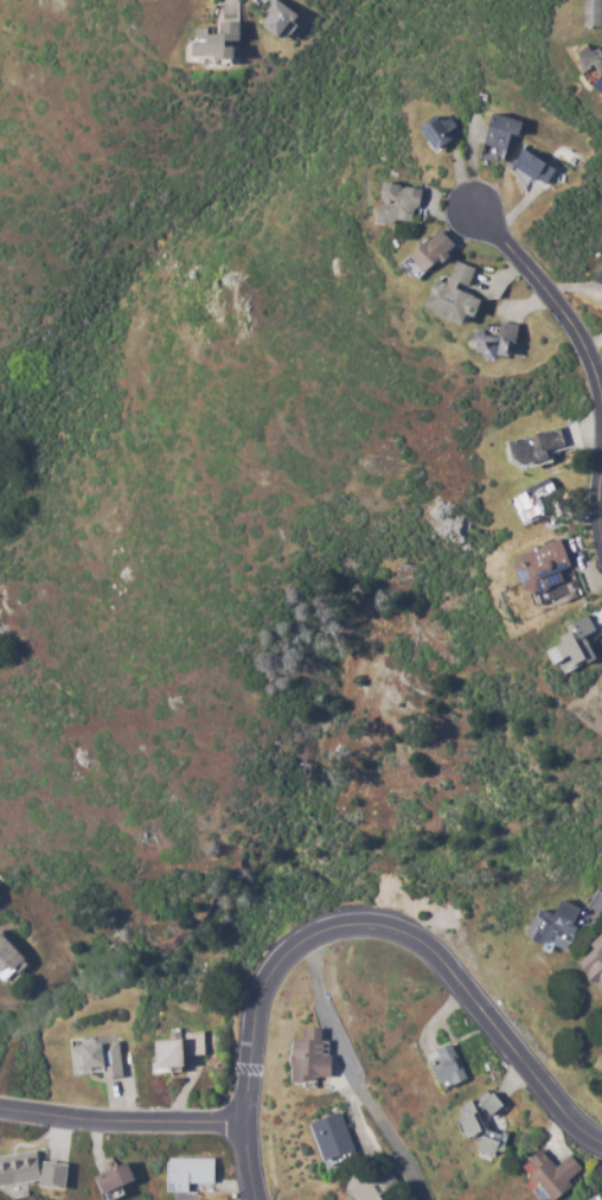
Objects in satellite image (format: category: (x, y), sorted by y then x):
building: (595, 13)
building: (593, 64)
building: (499, 140)
building: (531, 166)
building: (396, 204)
building: (601, 282)
building: (451, 294)
road: (551, 301)
building: (494, 342)
road: (597, 497)
building: (542, 564)
building: (600, 682)
building: (0, 901)
building: (553, 925)
road: (359, 926)
building: (9, 958)
building: (594, 960)
building: (181, 1049)
building: (312, 1058)
building: (96, 1060)
building: (446, 1066)
road: (348, 1074)
building: (470, 1122)
road: (121, 1123)
building: (328, 1137)
building: (20, 1168)
building: (192, 1172)
building: (55, 1175)
building: (113, 1180)
building: (366, 1189)
building: (587, 1199)

